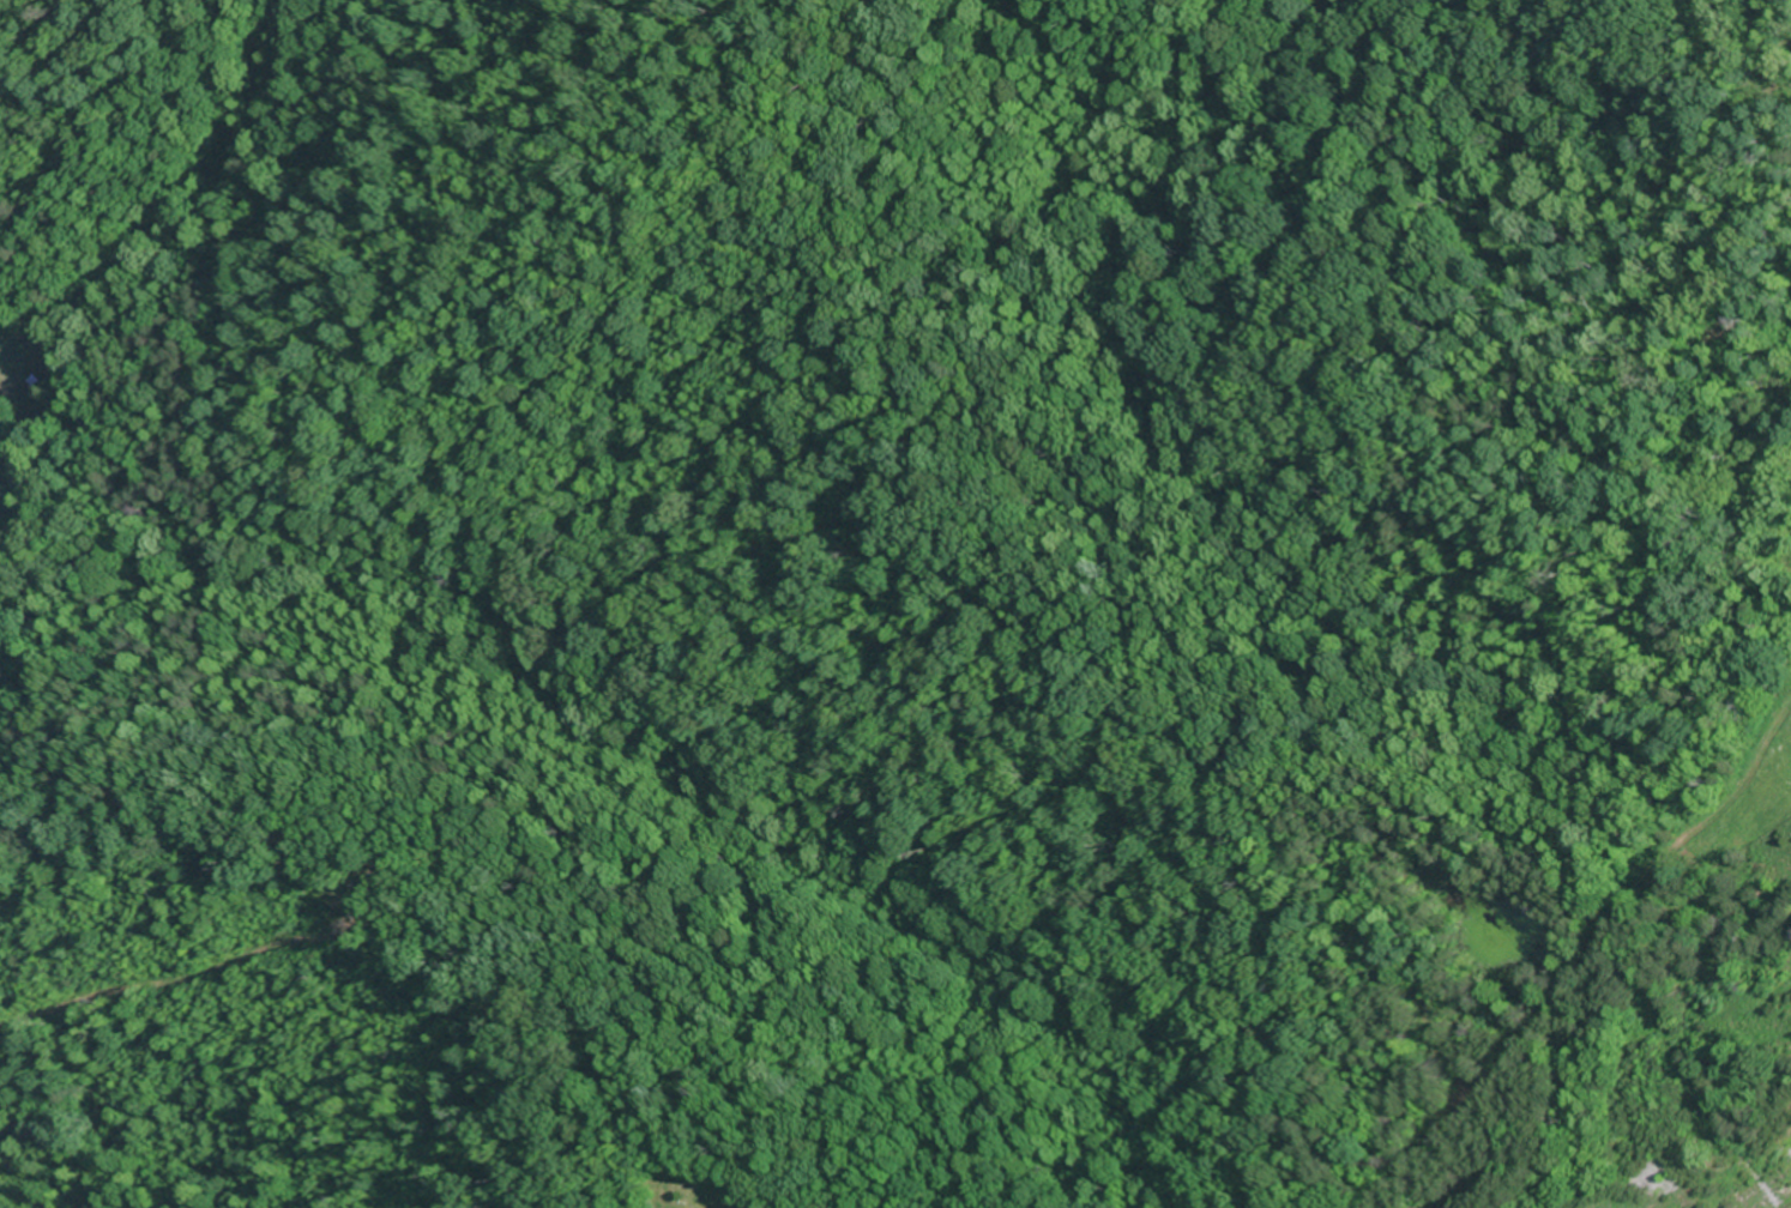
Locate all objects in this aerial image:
road: (1611, 965)

